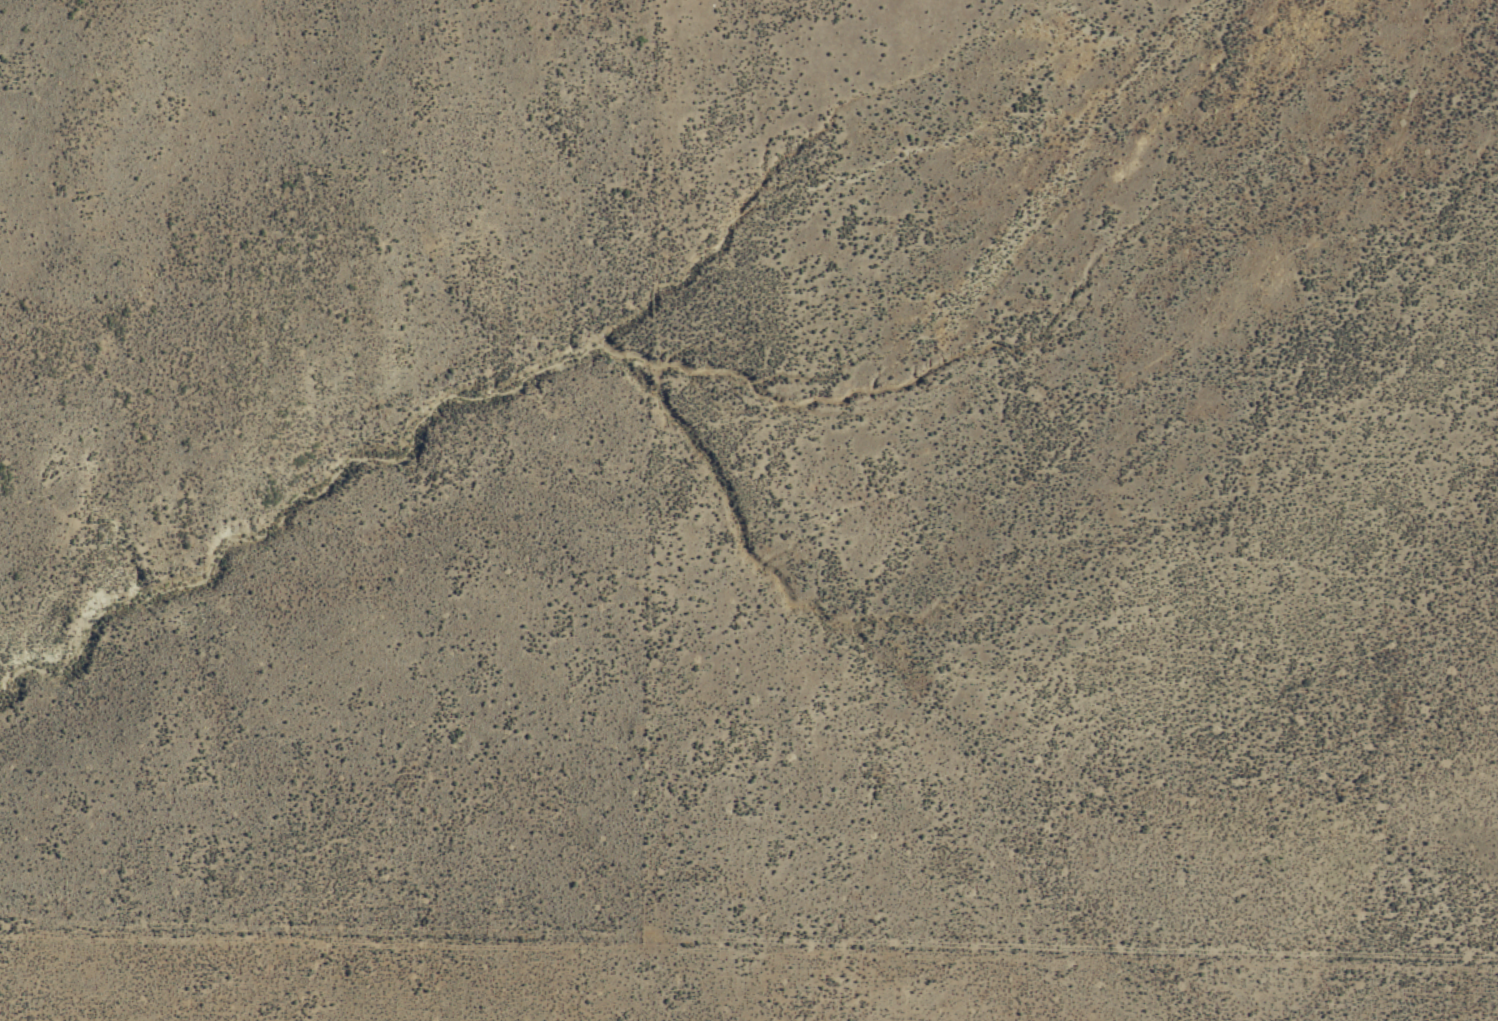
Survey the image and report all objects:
crop: (815, 403)

